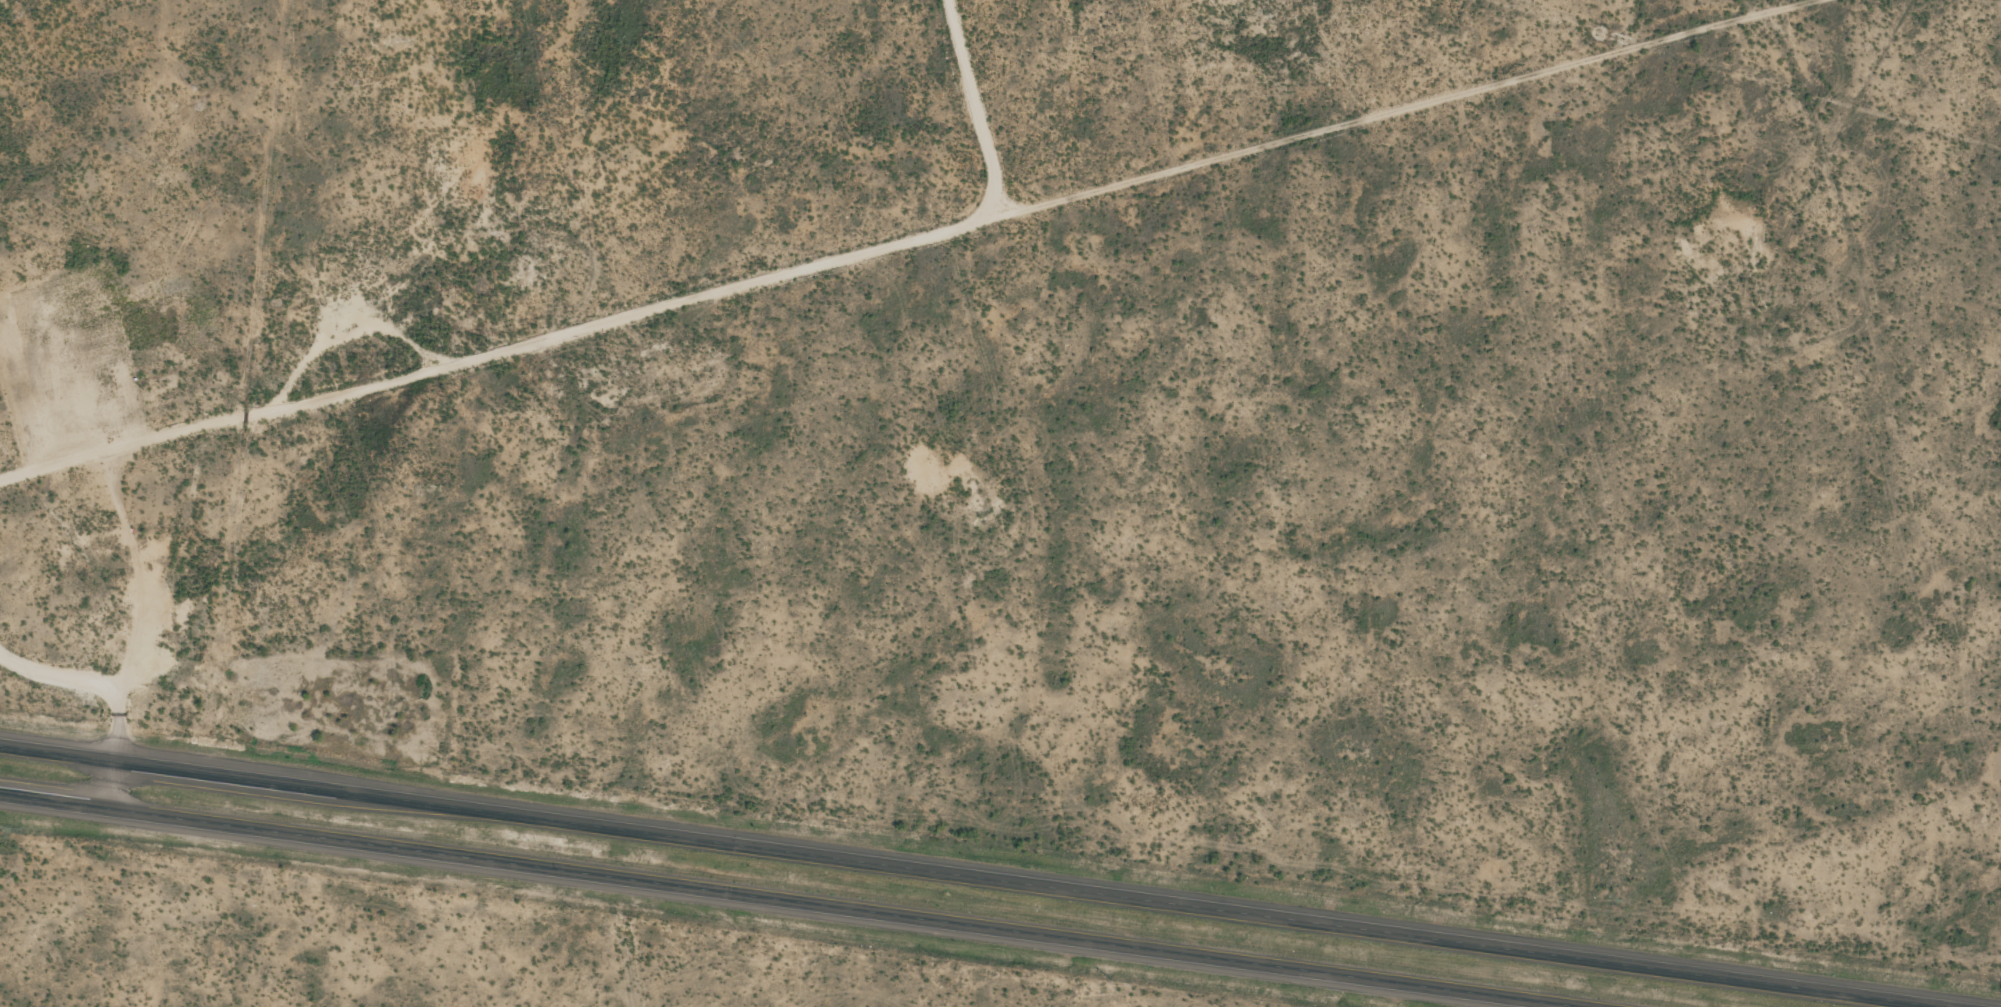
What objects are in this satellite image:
river: (528, 64)
road: (96, 674)
road: (113, 787)
road: (963, 877)
road: (782, 901)

